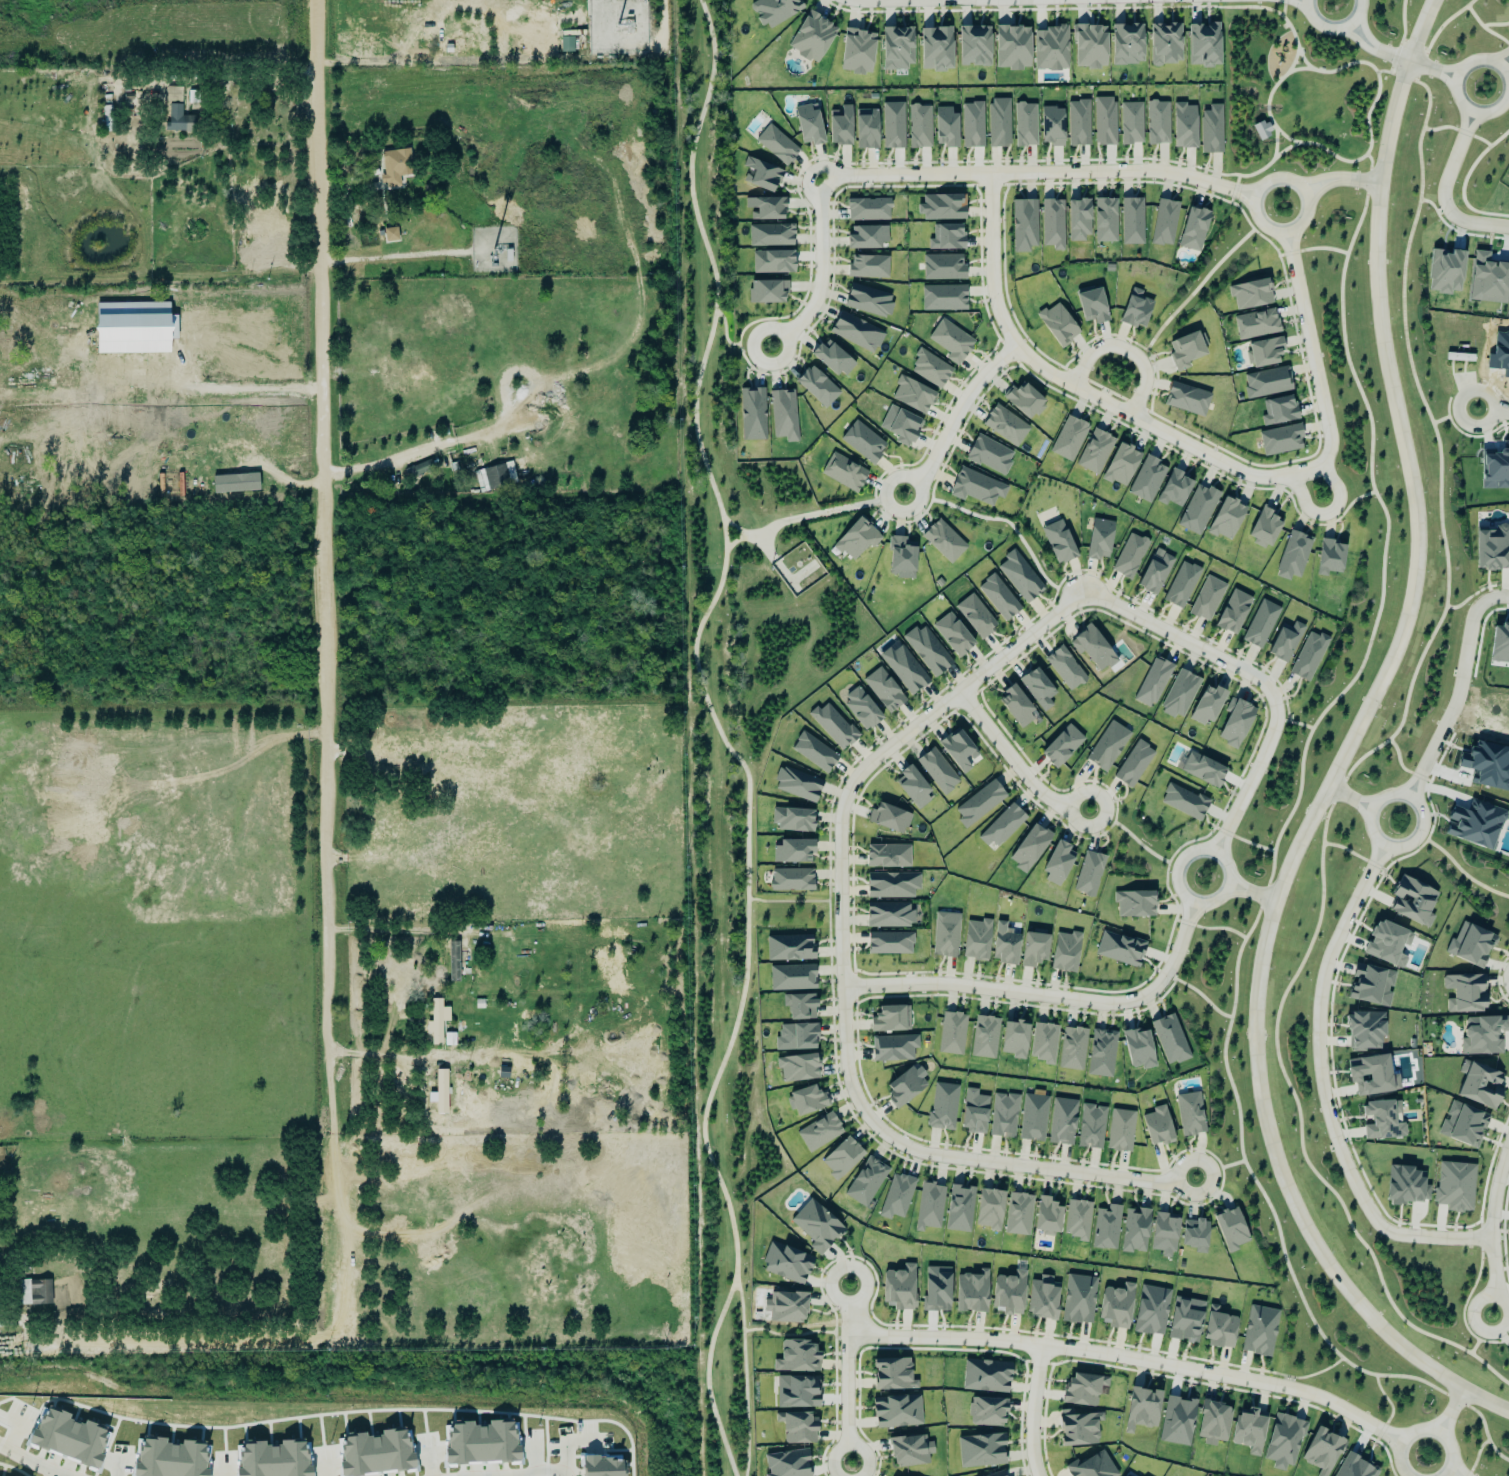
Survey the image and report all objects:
road: (1282, 2)
road: (1251, 7)
road: (1281, 10)
building: (773, 11)
road: (1334, 26)
road: (1289, 29)
road: (1367, 31)
building: (811, 37)
road: (1357, 38)
building: (566, 44)
building: (1126, 44)
building: (1164, 44)
building: (1203, 45)
building: (973, 46)
building: (1089, 46)
building: (896, 48)
building: (1011, 48)
building: (450, 49)
building: (935, 49)
building: (1050, 49)
building: (856, 52)
road: (1395, 54)
road: (1396, 56)
road: (1300, 58)
road: (1504, 59)
road: (1291, 60)
road: (1343, 64)
road: (1431, 67)
road: (1297, 68)
road: (1390, 70)
road: (1381, 71)
road: (243, 77)
road: (710, 86)
road: (1452, 86)
building: (173, 94)
road: (1266, 96)
park: (1295, 96)
road: (1366, 113)
building: (178, 120)
building: (1104, 121)
building: (1157, 122)
building: (998, 123)
building: (1078, 123)
building: (1131, 123)
building: (808, 125)
building: (972, 125)
building: (1024, 125)
building: (839, 126)
building: (892, 126)
building: (919, 126)
building: (1051, 126)
building: (1183, 126)
building: (944, 127)
building: (1259, 128)
building: (865, 129)
building: (1211, 130)
road: (1282, 135)
road: (1274, 141)
building: (776, 145)
road: (1282, 149)
road: (1330, 153)
road: (1369, 160)
building: (393, 167)
road: (1037, 171)
road: (1256, 171)
road: (1227, 174)
building: (760, 175)
road: (1340, 178)
road: (1236, 179)
road: (1367, 180)
road: (1301, 188)
road: (1232, 190)
road: (1442, 194)
road: (1230, 200)
building: (941, 207)
building: (764, 208)
building: (868, 210)
building: (1078, 219)
building: (1105, 220)
building: (1131, 221)
building: (1164, 223)
building: (1052, 224)
building: (1024, 225)
building: (1193, 229)
building: (390, 235)
building: (770, 235)
building: (866, 237)
building: (946, 238)
road: (1322, 247)
road: (1290, 252)
road: (1280, 254)
building: (772, 262)
building: (867, 267)
building: (942, 267)
road: (818, 270)
building: (1488, 280)
building: (766, 291)
building: (1250, 294)
building: (943, 298)
building: (868, 301)
building: (1091, 305)
building: (1135, 309)
building: (1256, 324)
building: (1057, 325)
building: (132, 328)
road: (712, 330)
building: (855, 333)
building: (951, 342)
road: (1310, 348)
road: (1125, 350)
building: (1185, 351)
building: (1263, 352)
building: (832, 359)
building: (930, 369)
building: (1266, 382)
building: (816, 387)
road: (1082, 390)
building: (912, 395)
building: (1186, 399)
building: (1023, 401)
road: (1491, 408)
building: (1278, 411)
building: (752, 414)
building: (783, 415)
road: (953, 416)
building: (900, 426)
building: (1005, 426)
building: (1068, 439)
building: (1280, 440)
building: (862, 442)
road: (441, 449)
building: (1094, 452)
building: (989, 455)
building: (1120, 465)
building: (843, 473)
building: (495, 477)
building: (1146, 480)
building: (236, 483)
building: (975, 488)
building: (1174, 489)
road: (1357, 497)
building: (1197, 509)
road: (1324, 513)
building: (1226, 519)
building: (1263, 528)
building: (856, 539)
building: (1098, 539)
building: (943, 541)
building: (1057, 542)
building: (1492, 549)
road: (1384, 553)
building: (1129, 556)
building: (1292, 556)
building: (1329, 557)
building: (900, 558)
building: (1154, 572)
building: (1019, 576)
building: (1181, 585)
building: (998, 598)
building: (1207, 599)
building: (1233, 612)
building: (975, 616)
building: (1260, 624)
building: (952, 635)
building: (1285, 642)
building: (1500, 645)
building: (1092, 649)
building: (926, 650)
building: (1308, 657)
road: (698, 666)
building: (1508, 666)
building: (1065, 668)
building: (904, 669)
road: (1257, 679)
building: (1152, 683)
road: (1457, 685)
building: (1037, 689)
building: (883, 690)
building: (1179, 695)
building: (1206, 706)
building: (1016, 707)
building: (860, 709)
road: (1294, 721)
building: (1235, 723)
building: (832, 726)
building: (1061, 746)
building: (1107, 747)
building: (957, 751)
building: (813, 752)
road: (1345, 753)
road: (1013, 763)
building: (1133, 765)
building: (1201, 770)
building: (937, 771)
building: (797, 785)
building: (912, 788)
road: (1349, 798)
road: (321, 799)
building: (1183, 802)
building: (978, 804)
road: (1418, 808)
building: (888, 819)
building: (792, 820)
building: (1002, 827)
road: (1249, 841)
building: (1029, 849)
road: (1350, 850)
building: (791, 852)
building: (887, 856)
road: (1225, 861)
building: (1057, 864)
road: (1465, 871)
building: (1088, 874)
building: (791, 880)
building: (891, 885)
road: (1252, 892)
building: (1412, 902)
building: (1133, 905)
building: (888, 915)
road: (400, 928)
building: (945, 936)
building: (975, 940)
building: (889, 944)
building: (1386, 944)
building: (1469, 946)
building: (788, 949)
building: (1119, 949)
building: (1033, 950)
building: (1065, 953)
building: (453, 962)
road: (841, 970)
building: (791, 978)
building: (1371, 986)
building: (1464, 994)
road: (1048, 996)
building: (480, 1003)
building: (799, 1007)
road: (737, 1015)
building: (887, 1020)
building: (434, 1023)
building: (1364, 1031)
building: (951, 1034)
building: (1483, 1036)
building: (450, 1038)
building: (795, 1038)
building: (984, 1038)
building: (1014, 1040)
building: (1169, 1040)
building: (1043, 1043)
building: (893, 1048)
building: (1072, 1049)
building: (1138, 1049)
building: (1101, 1054)
road: (425, 1060)
building: (797, 1069)
building: (504, 1072)
building: (1371, 1076)
building: (905, 1086)
building: (1479, 1086)
road: (1324, 1092)
building: (440, 1094)
building: (806, 1101)
building: (942, 1107)
building: (973, 1112)
building: (1003, 1115)
building: (1190, 1115)
building: (1033, 1118)
building: (1382, 1121)
building: (1062, 1122)
road: (1300, 1124)
building: (1462, 1125)
building: (1157, 1126)
building: (1091, 1127)
building: (1120, 1131)
building: (819, 1133)
building: (841, 1159)
building: (865, 1182)
building: (1404, 1186)
building: (1454, 1187)
building: (896, 1197)
building: (929, 1207)
building: (959, 1209)
building: (988, 1210)
building: (1018, 1215)
building: (1046, 1217)
building: (1077, 1220)
building: (816, 1226)
building: (1105, 1228)
building: (1230, 1229)
road: (1493, 1230)
building: (1135, 1231)
building: (1164, 1234)
building: (1194, 1236)
building: (786, 1263)
building: (898, 1288)
building: (936, 1289)
building: (33, 1292)
building: (970, 1292)
building: (1008, 1293)
building: (1042, 1298)
building: (1078, 1299)
building: (1115, 1306)
building: (785, 1307)
road: (722, 1310)
building: (1151, 1310)
building: (1185, 1320)
building: (1219, 1329)
road: (742, 1330)
building: (1259, 1331)
road: (787, 1334)
building: (796, 1356)
road: (1117, 1356)
road: (847, 1372)
building: (892, 1374)
building: (985, 1376)
building: (1083, 1389)
building: (796, 1391)
road: (1457, 1401)
building: (1141, 1409)
building: (896, 1411)
road: (1033, 1411)
building: (986, 1412)
road: (717, 1415)
building: (1177, 1421)
road: (1437, 1421)
building: (1213, 1422)
building: (796, 1427)
road: (1485, 1427)
building: (1079, 1428)
road: (1450, 1428)
road: (1424, 1430)
building: (1247, 1431)
road: (1394, 1432)
building: (67, 1438)
building: (1283, 1441)
road: (1388, 1441)
building: (481, 1443)
building: (980, 1450)
building: (909, 1451)
building: (1321, 1451)
building: (373, 1453)
building: (168, 1459)
building: (273, 1459)
road: (25, 1461)
building: (786, 1464)
road: (1458, 1465)
building: (601, 1466)
building: (1091, 1466)
road: (538, 1472)
building: (997, 1473)
road: (42, 1474)
building: (1123, 1475)

